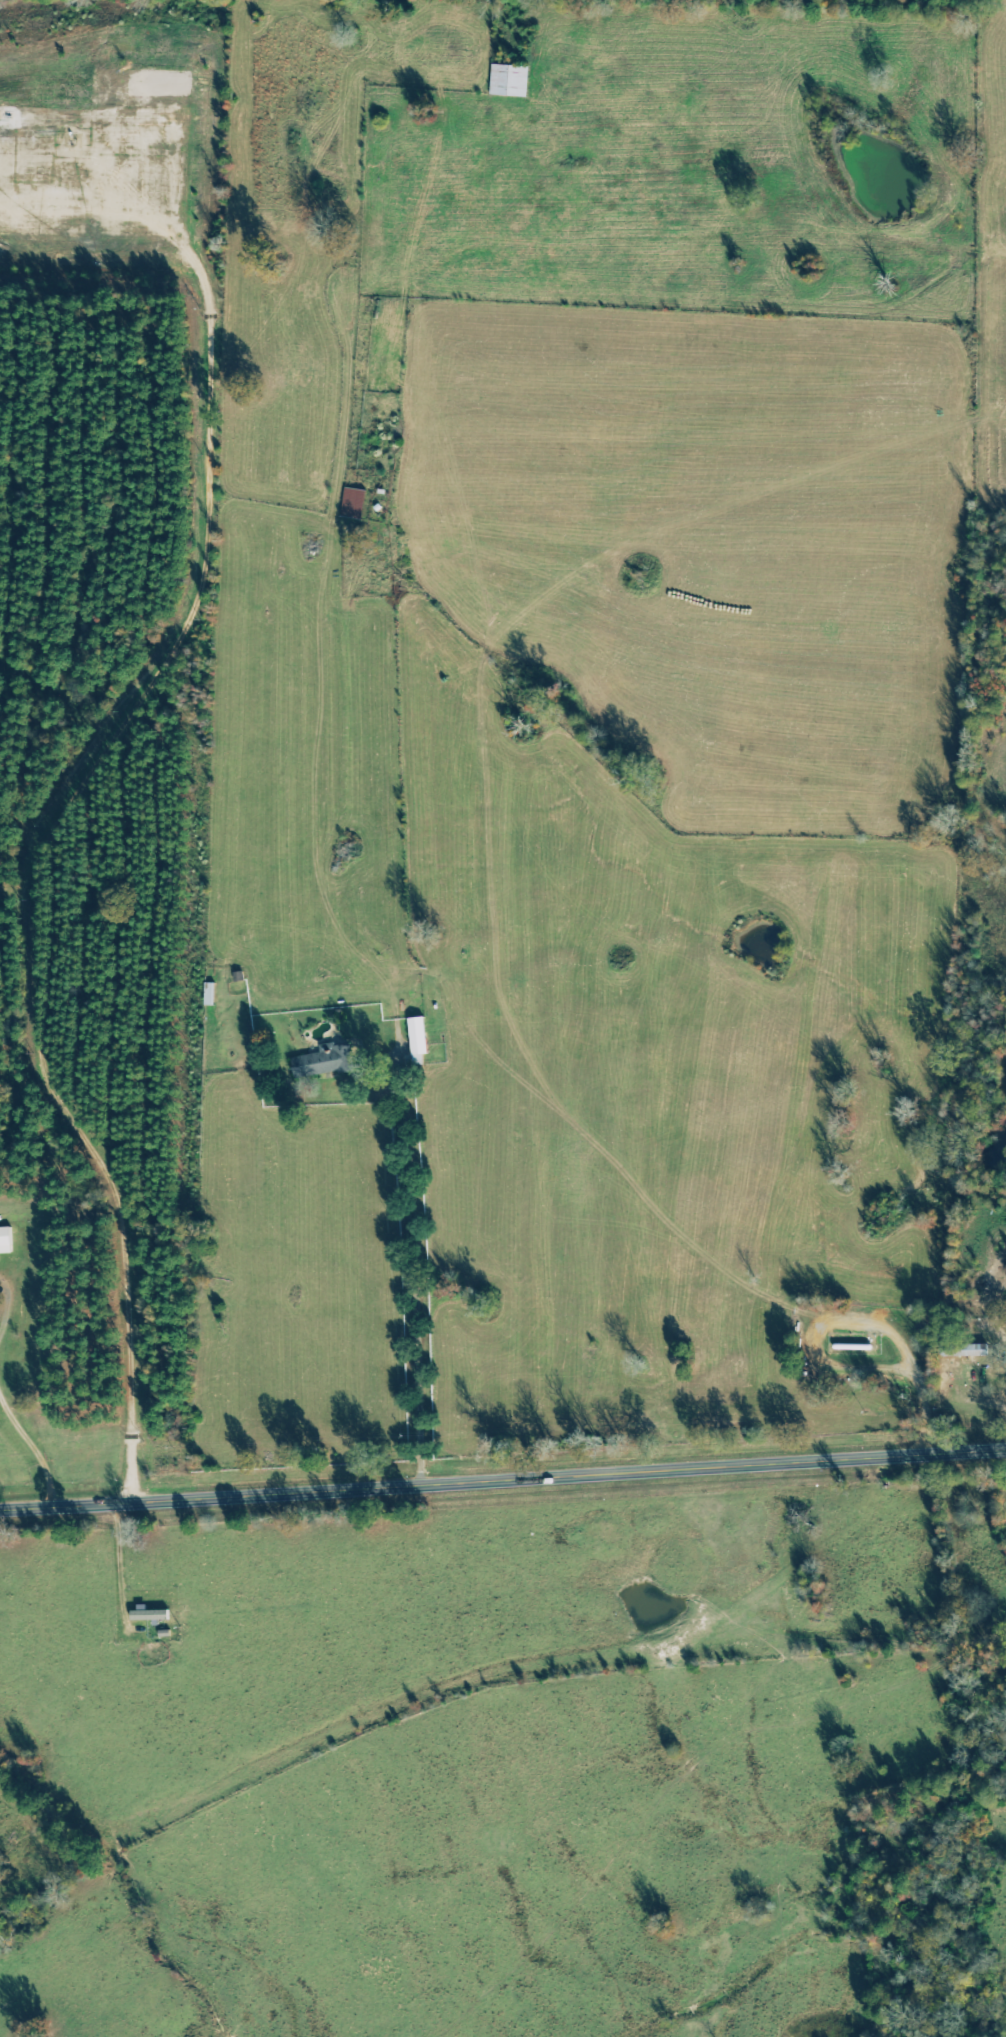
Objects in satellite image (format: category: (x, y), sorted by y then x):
building: (510, 79)
building: (355, 503)
building: (210, 994)
building: (417, 1035)
building: (326, 1062)
building: (6, 1241)
road: (418, 1283)
road: (849, 1317)
building: (967, 1351)
road: (503, 1480)
building: (152, 1616)

